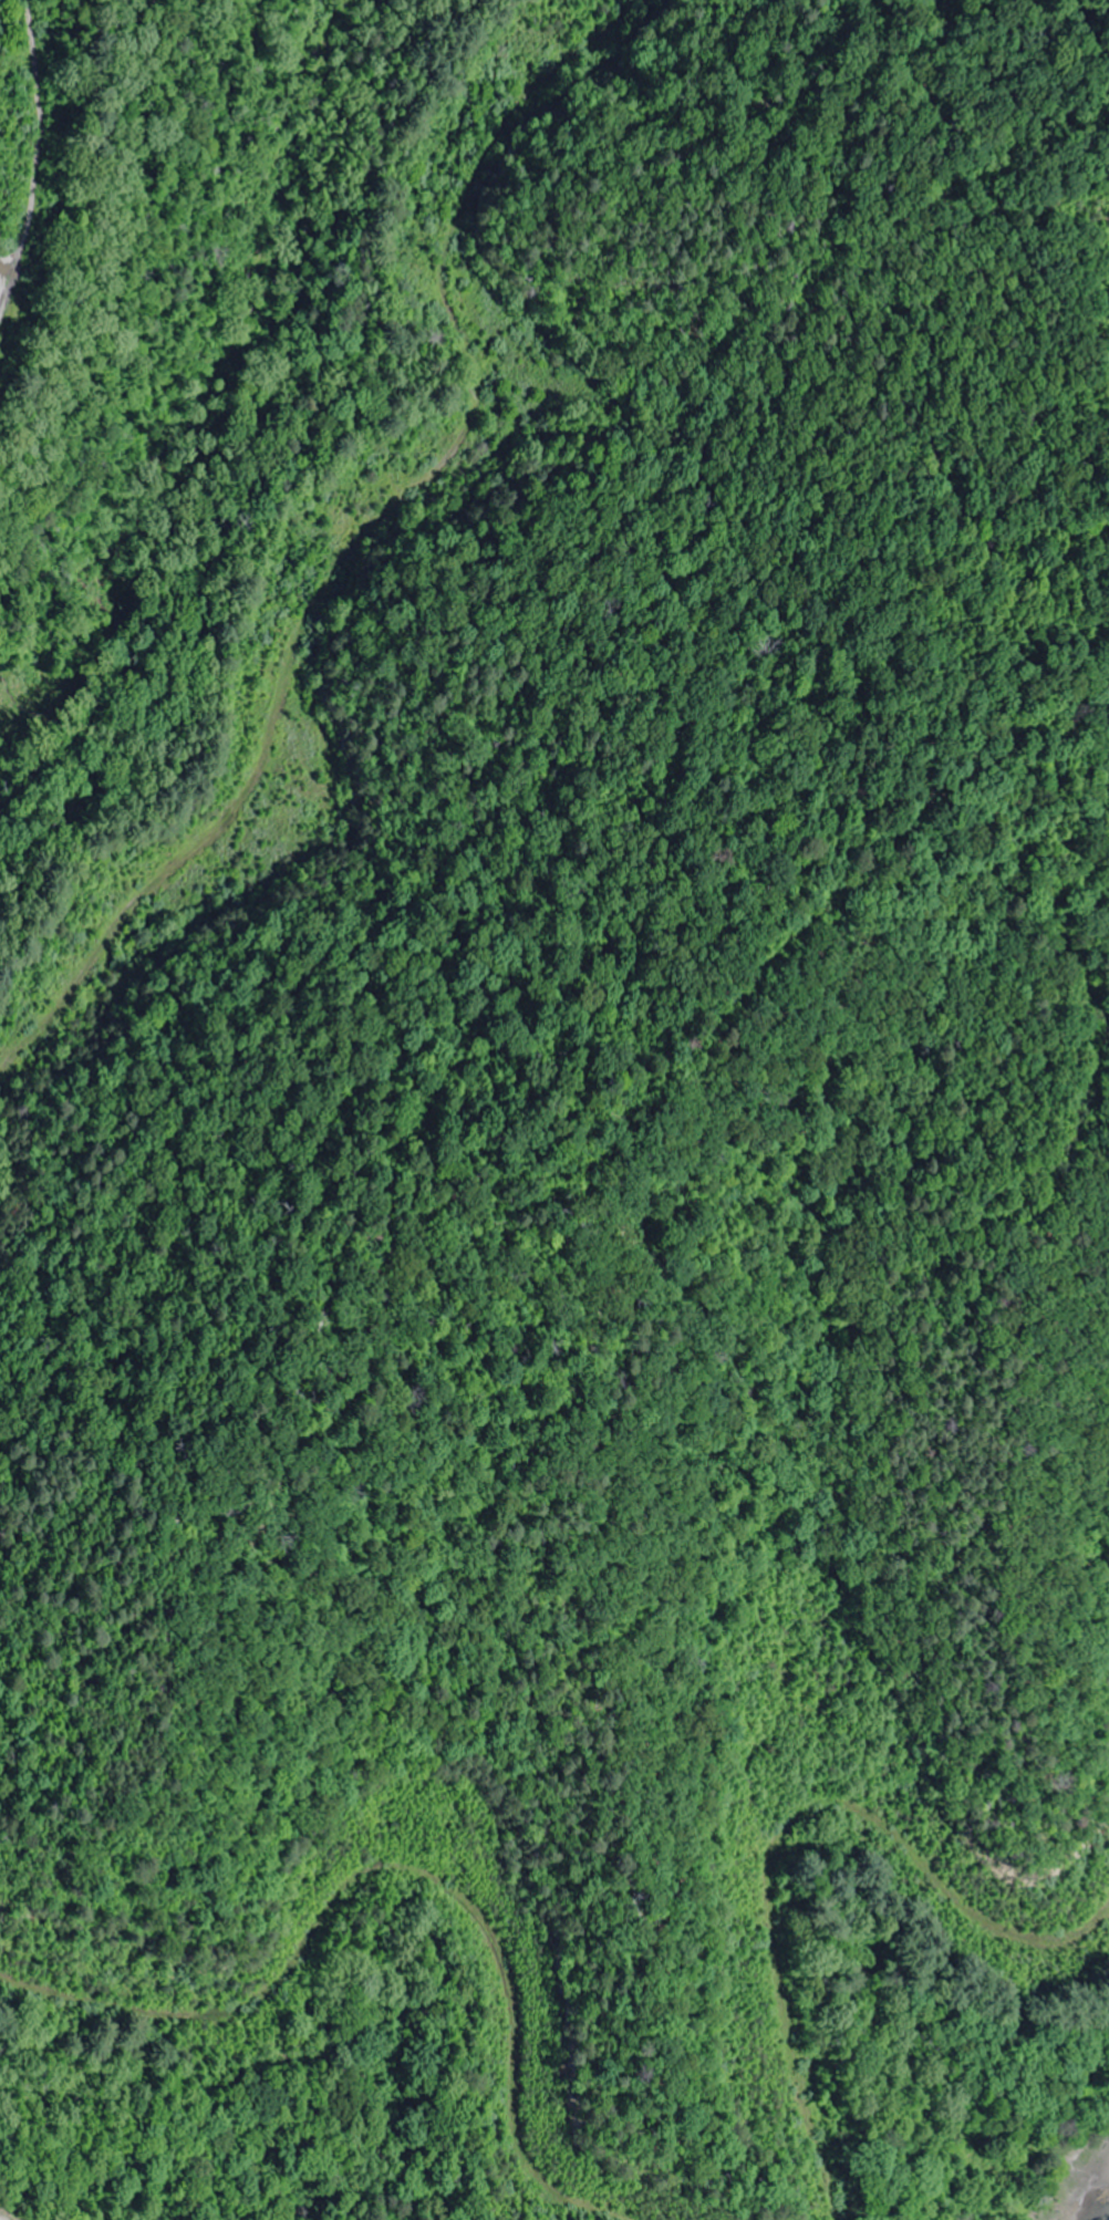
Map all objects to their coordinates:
road: (1, 86)

